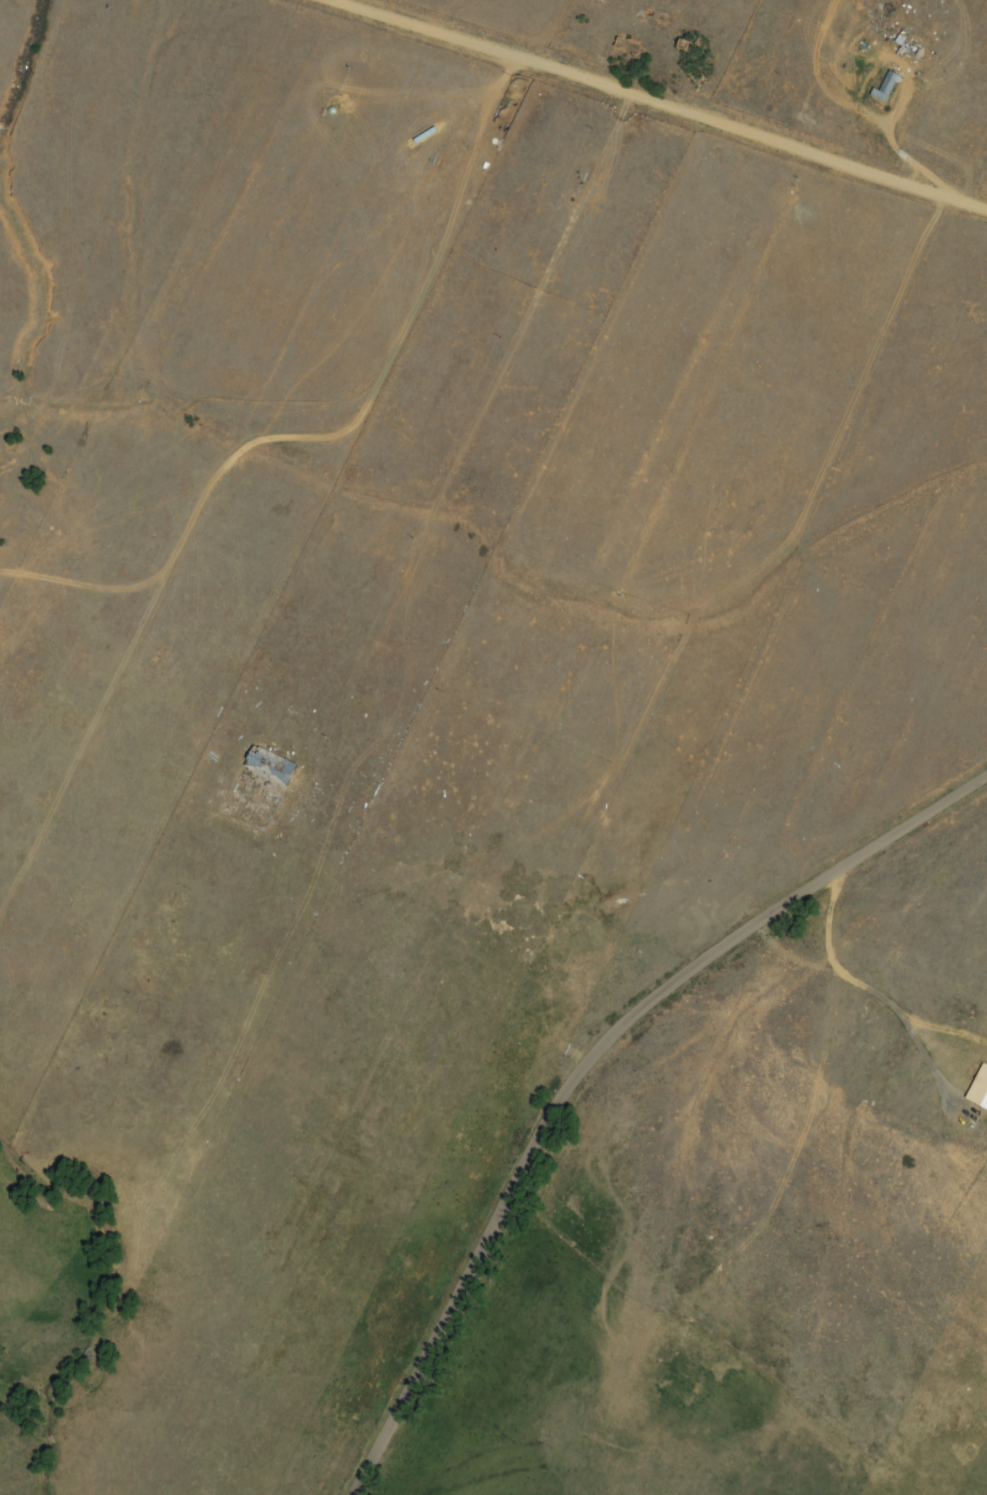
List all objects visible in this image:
road: (1, 0)
building: (908, 43)
building: (885, 86)
road: (646, 95)
road: (978, 166)
building: (269, 765)
road: (605, 1066)

